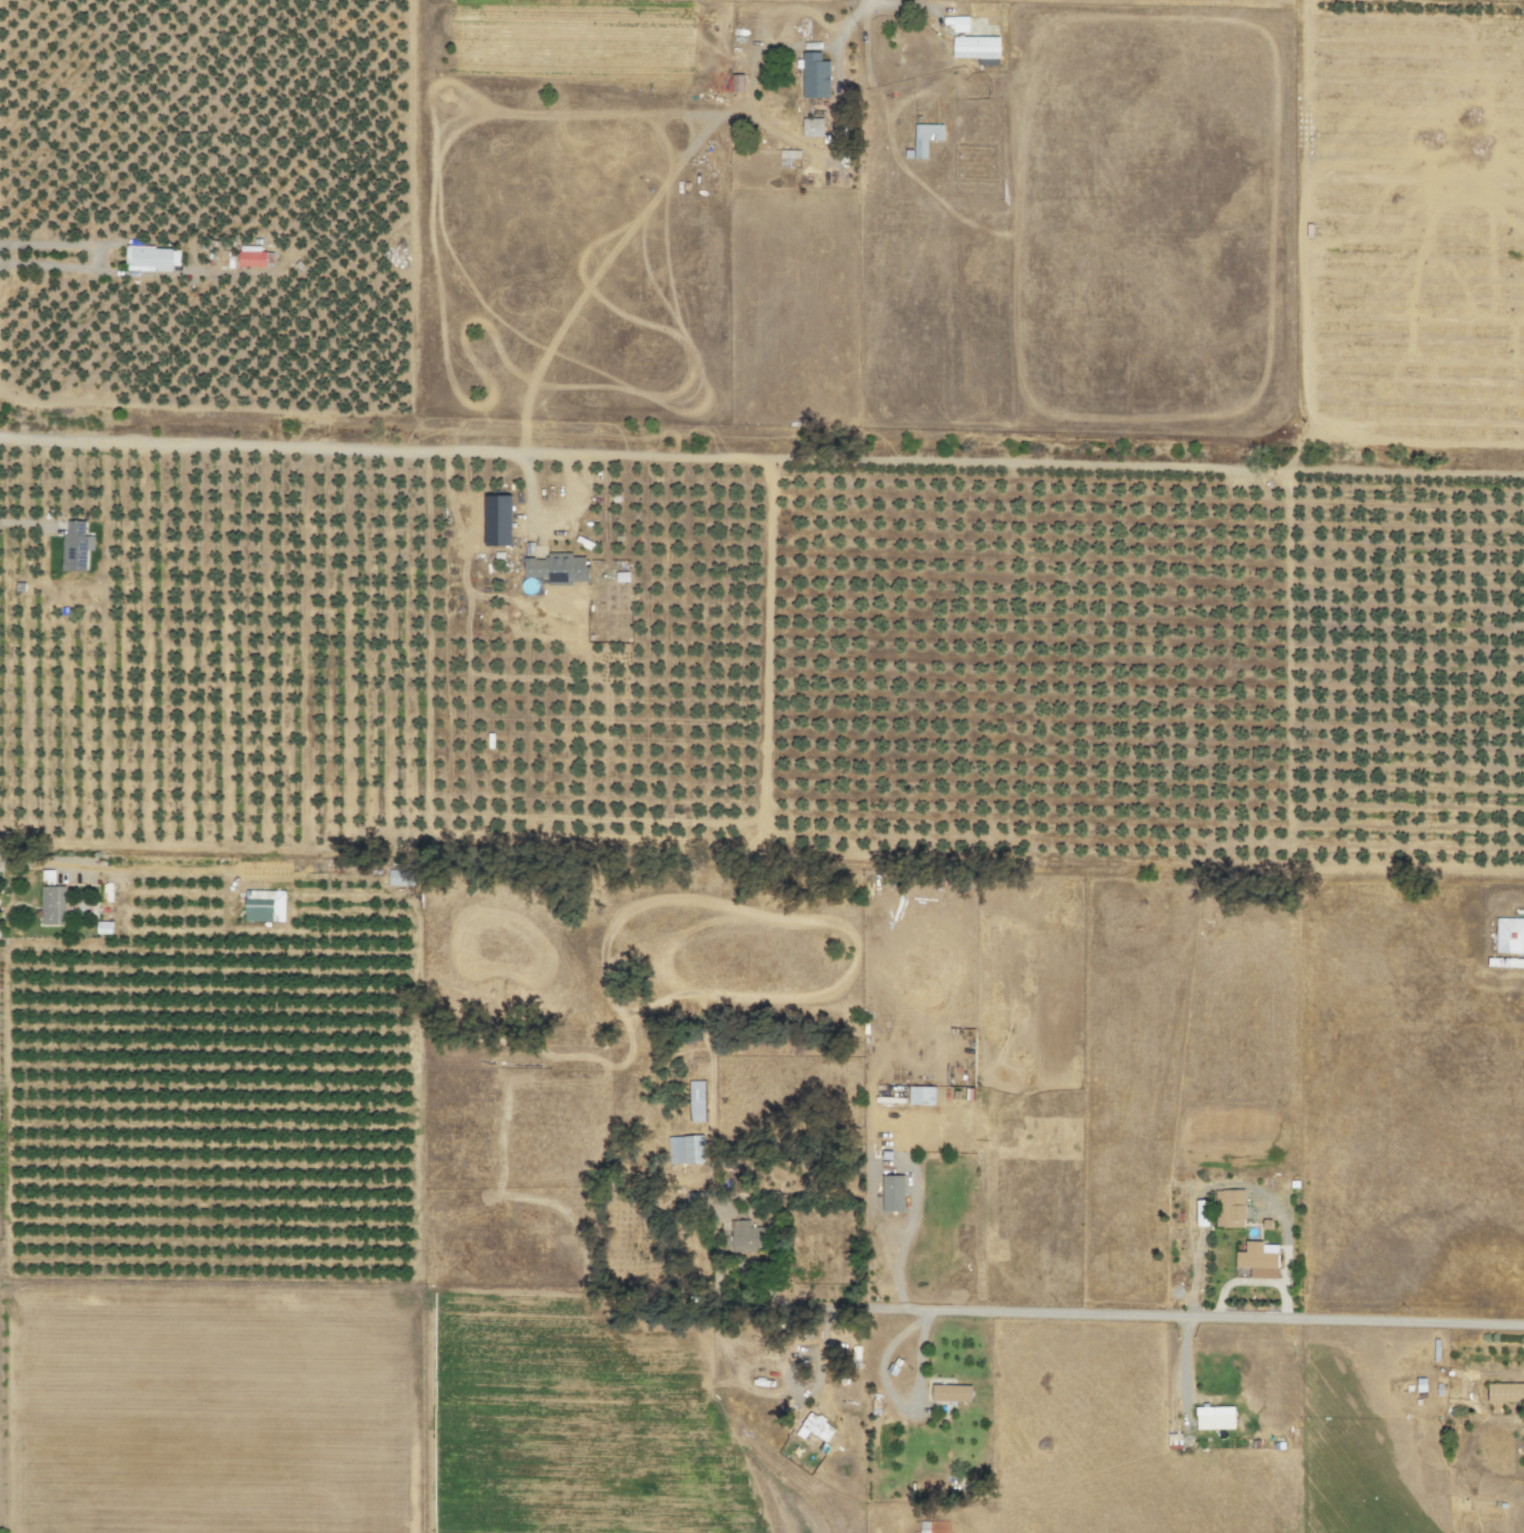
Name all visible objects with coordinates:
building: (960, 24)
building: (1011, 46)
building: (977, 49)
building: (815, 76)
building: (736, 83)
building: (812, 128)
building: (923, 140)
building: (787, 157)
road: (333, 223)
road: (1299, 238)
building: (252, 257)
road: (95, 259)
building: (154, 259)
road: (1415, 444)
road: (262, 445)
road: (905, 463)
road: (528, 504)
building: (497, 521)
building: (74, 547)
building: (557, 569)
building: (401, 878)
building: (53, 906)
building: (264, 907)
building: (1509, 936)
building: (920, 1096)
building: (695, 1102)
building: (685, 1150)
building: (892, 1194)
building: (1229, 1208)
building: (1201, 1213)
building: (746, 1237)
building: (1258, 1260)
road: (1175, 1314)
road: (787, 1381)
building: (951, 1393)
building: (1505, 1393)
building: (1214, 1411)
building: (815, 1428)

